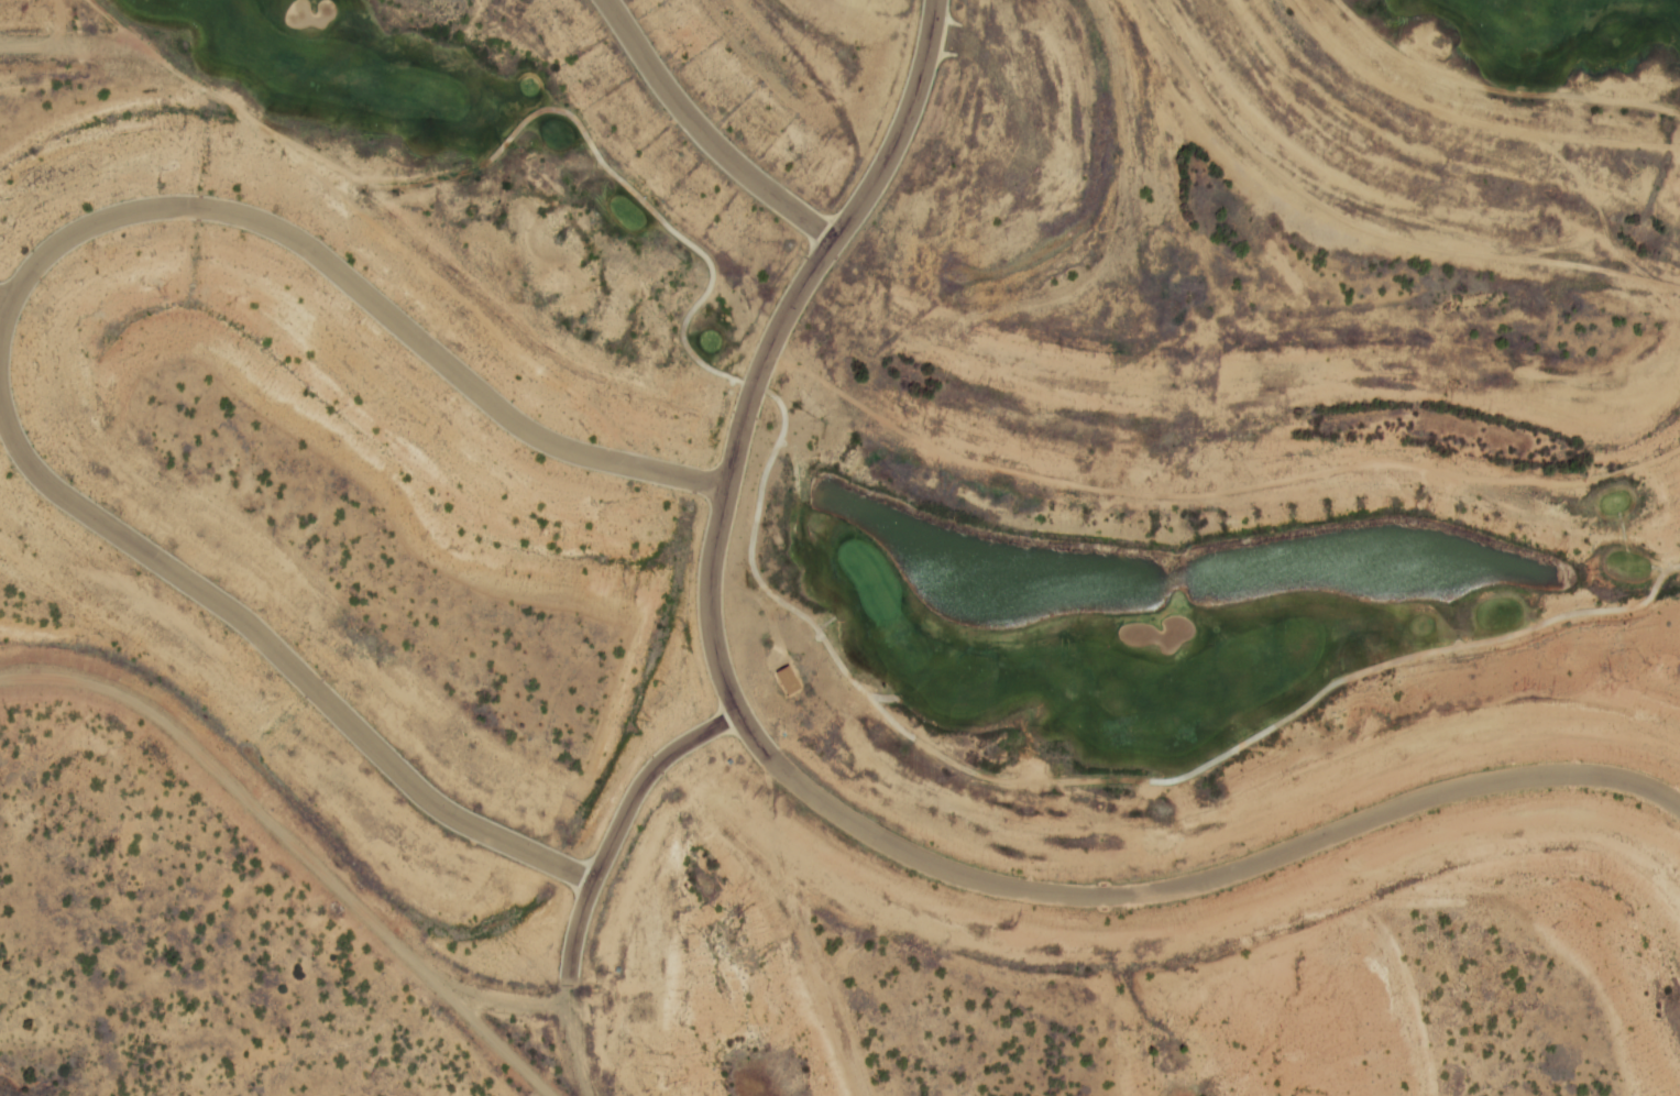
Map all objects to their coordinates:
park: (1547, 64)
road: (995, 76)
road: (1496, 87)
road: (705, 135)
road: (354, 285)
road: (6, 302)
road: (772, 343)
park: (945, 471)
road: (757, 530)
road: (282, 655)
building: (791, 682)
road: (623, 823)
road: (1193, 886)
road: (574, 1038)

